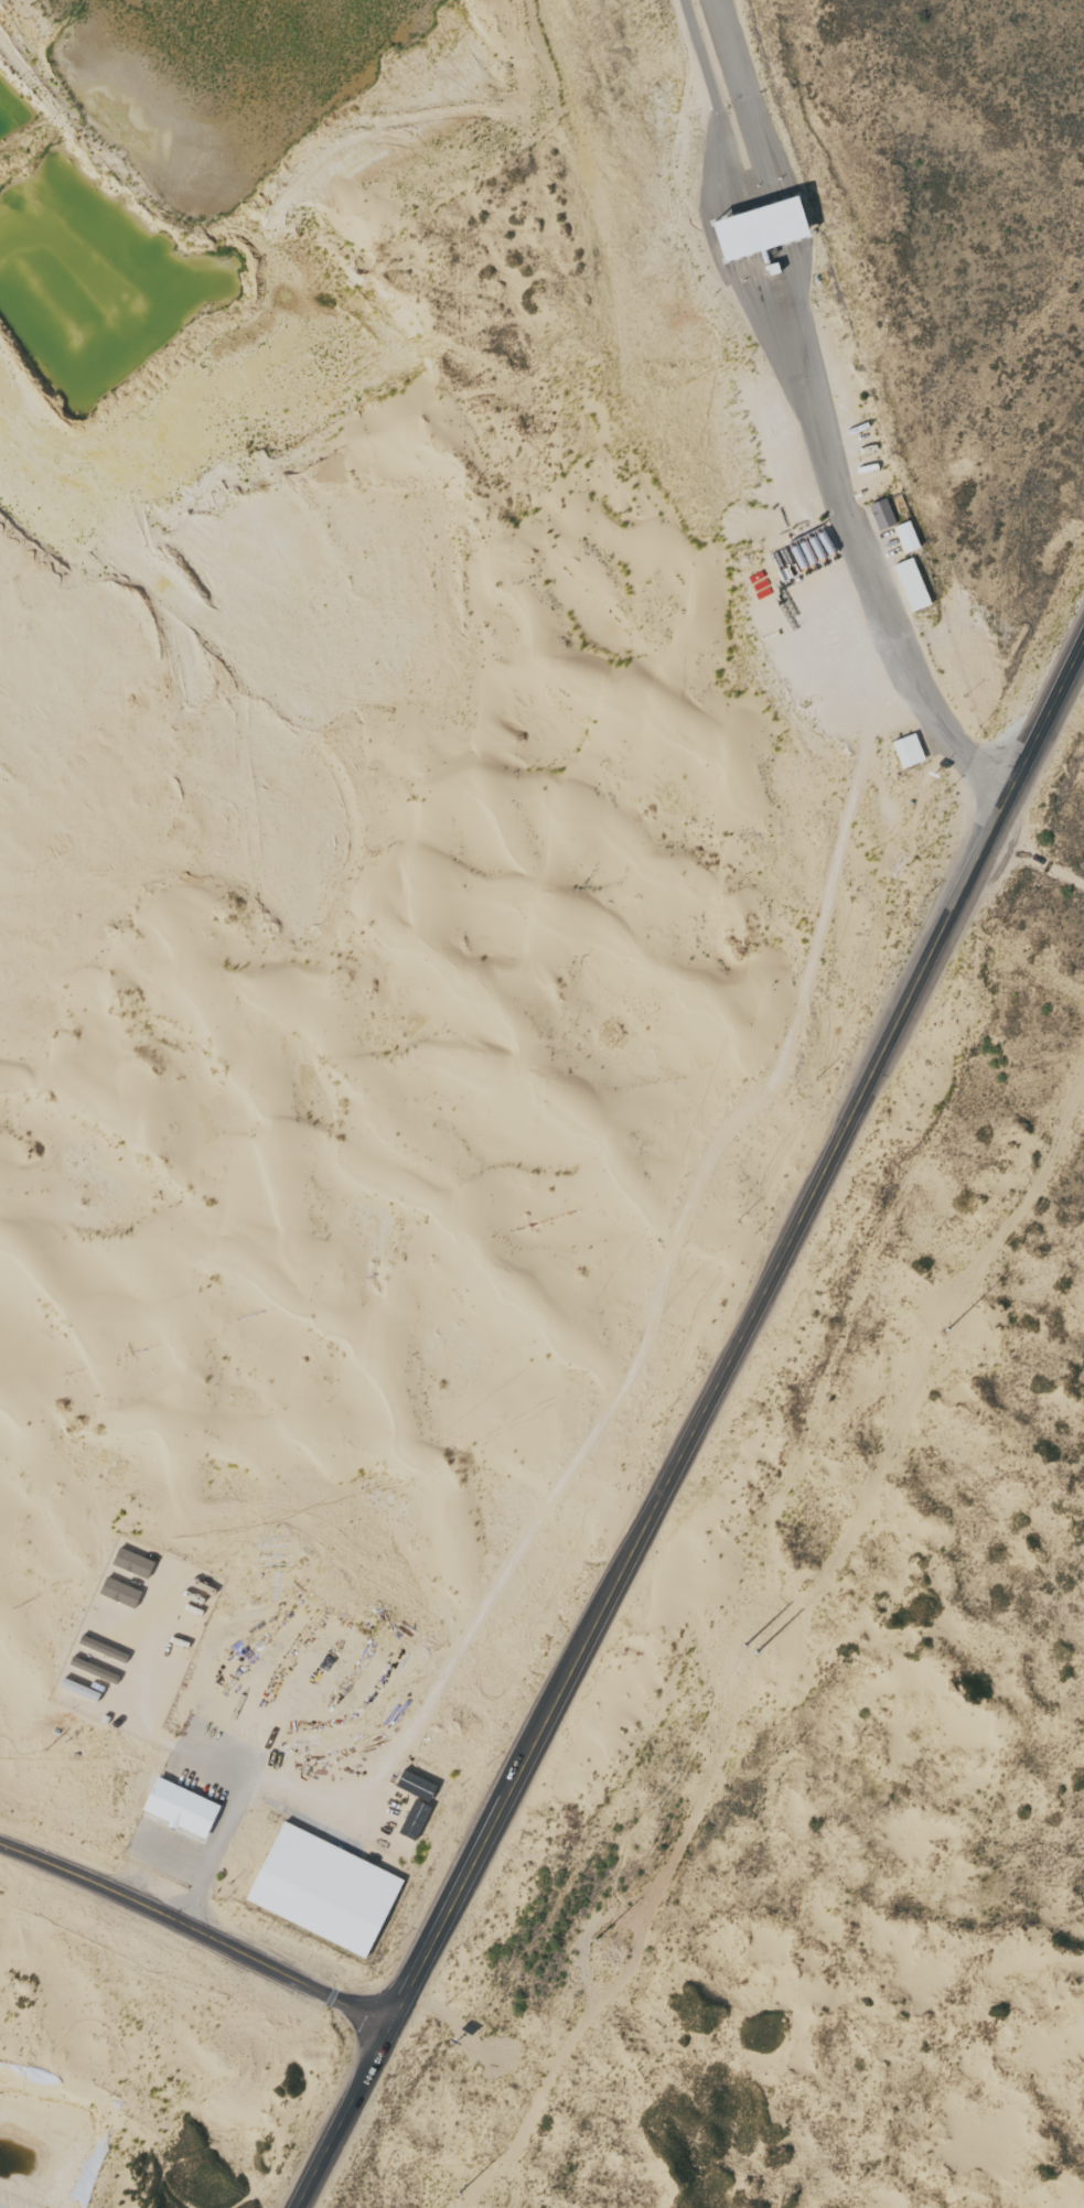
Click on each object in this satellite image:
building: (769, 228)
building: (884, 515)
building: (909, 538)
building: (915, 585)
building: (911, 752)
road: (1043, 850)
power tower: (945, 1333)
road: (693, 1430)
building: (136, 1563)
building: (124, 1593)
power tower: (771, 1658)
road: (200, 1753)
building: (184, 1809)
building: (329, 1891)
road: (197, 1929)
power tower: (612, 1945)
power tower: (477, 2202)

